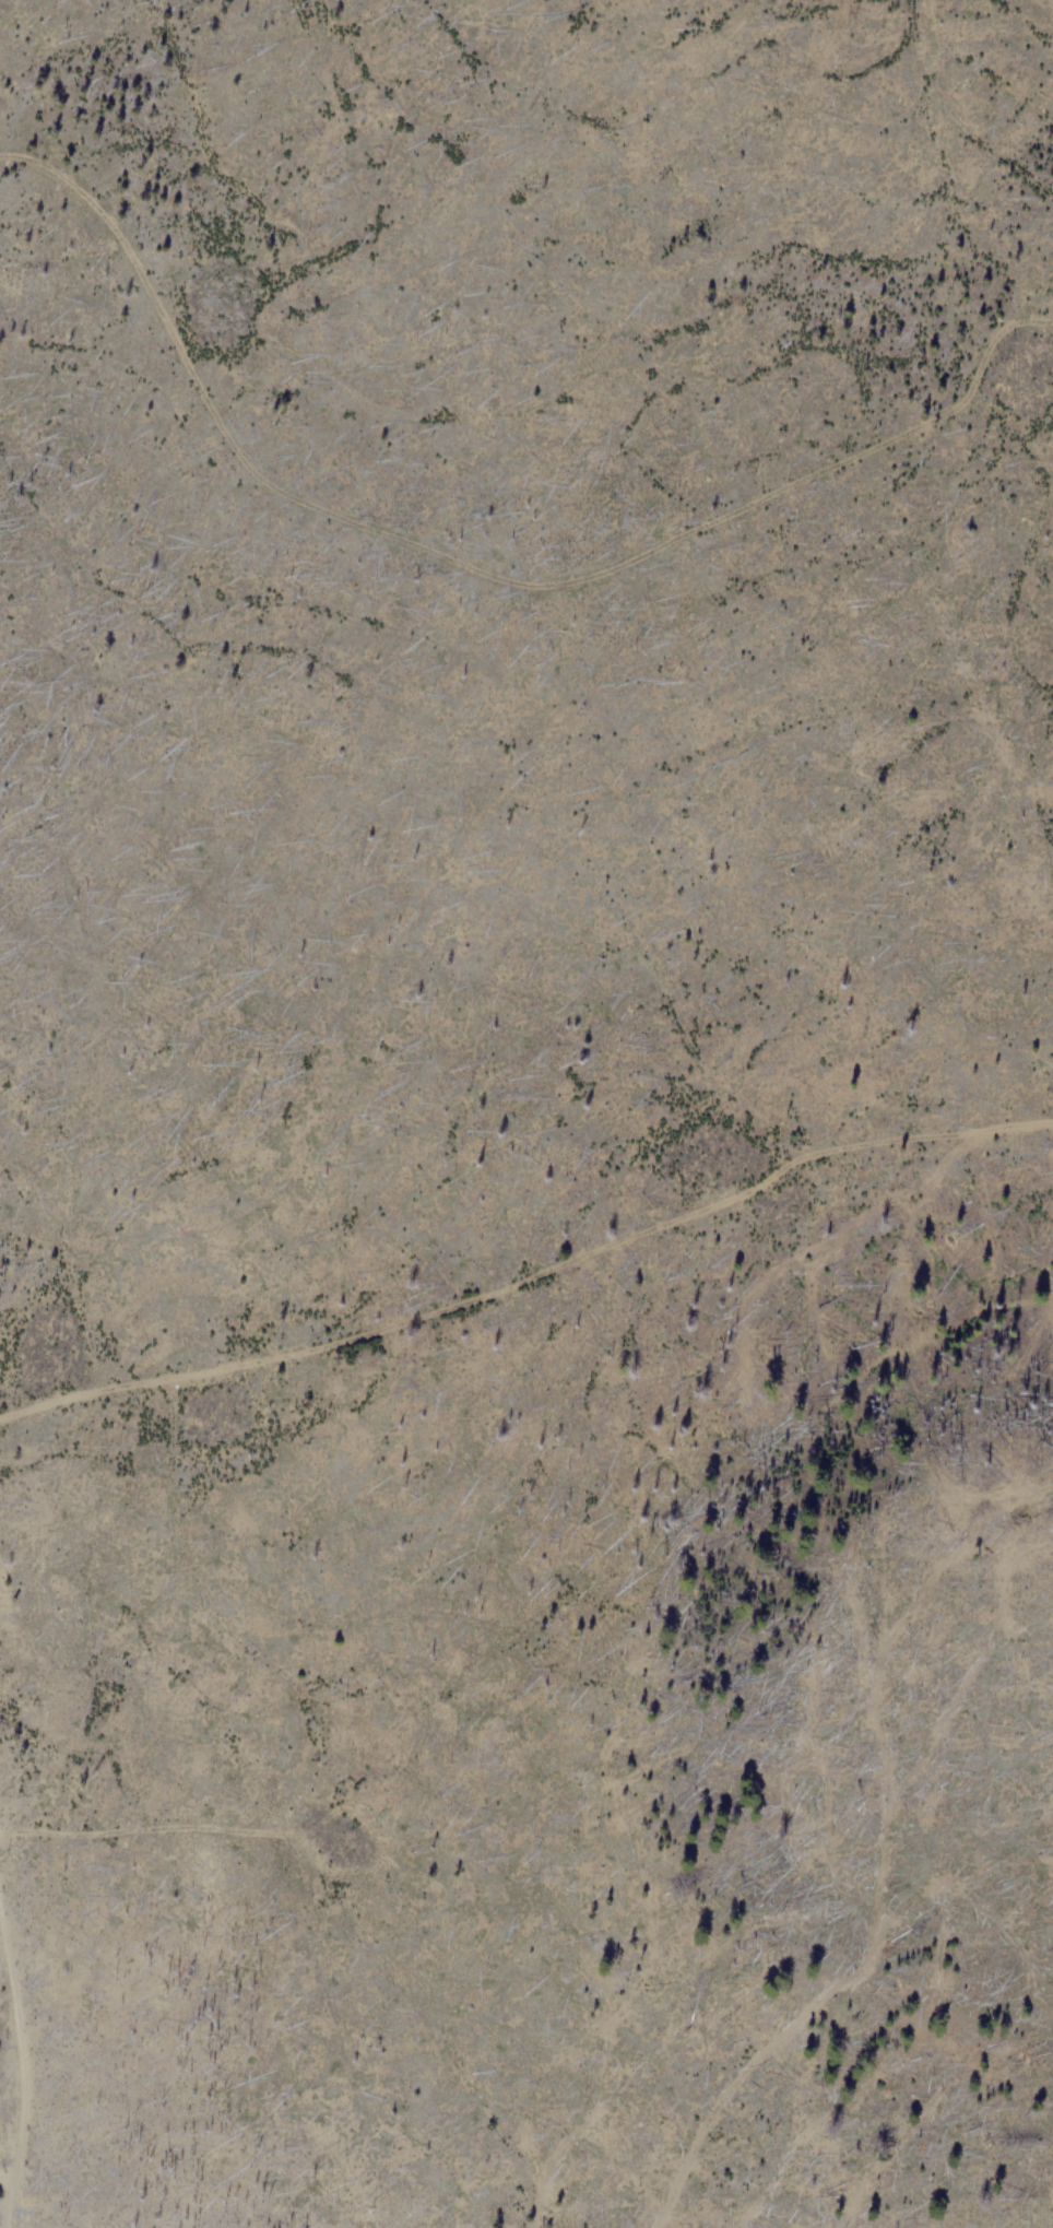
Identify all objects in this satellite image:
road: (473, 571)
road: (531, 1276)
road: (13, 2088)

